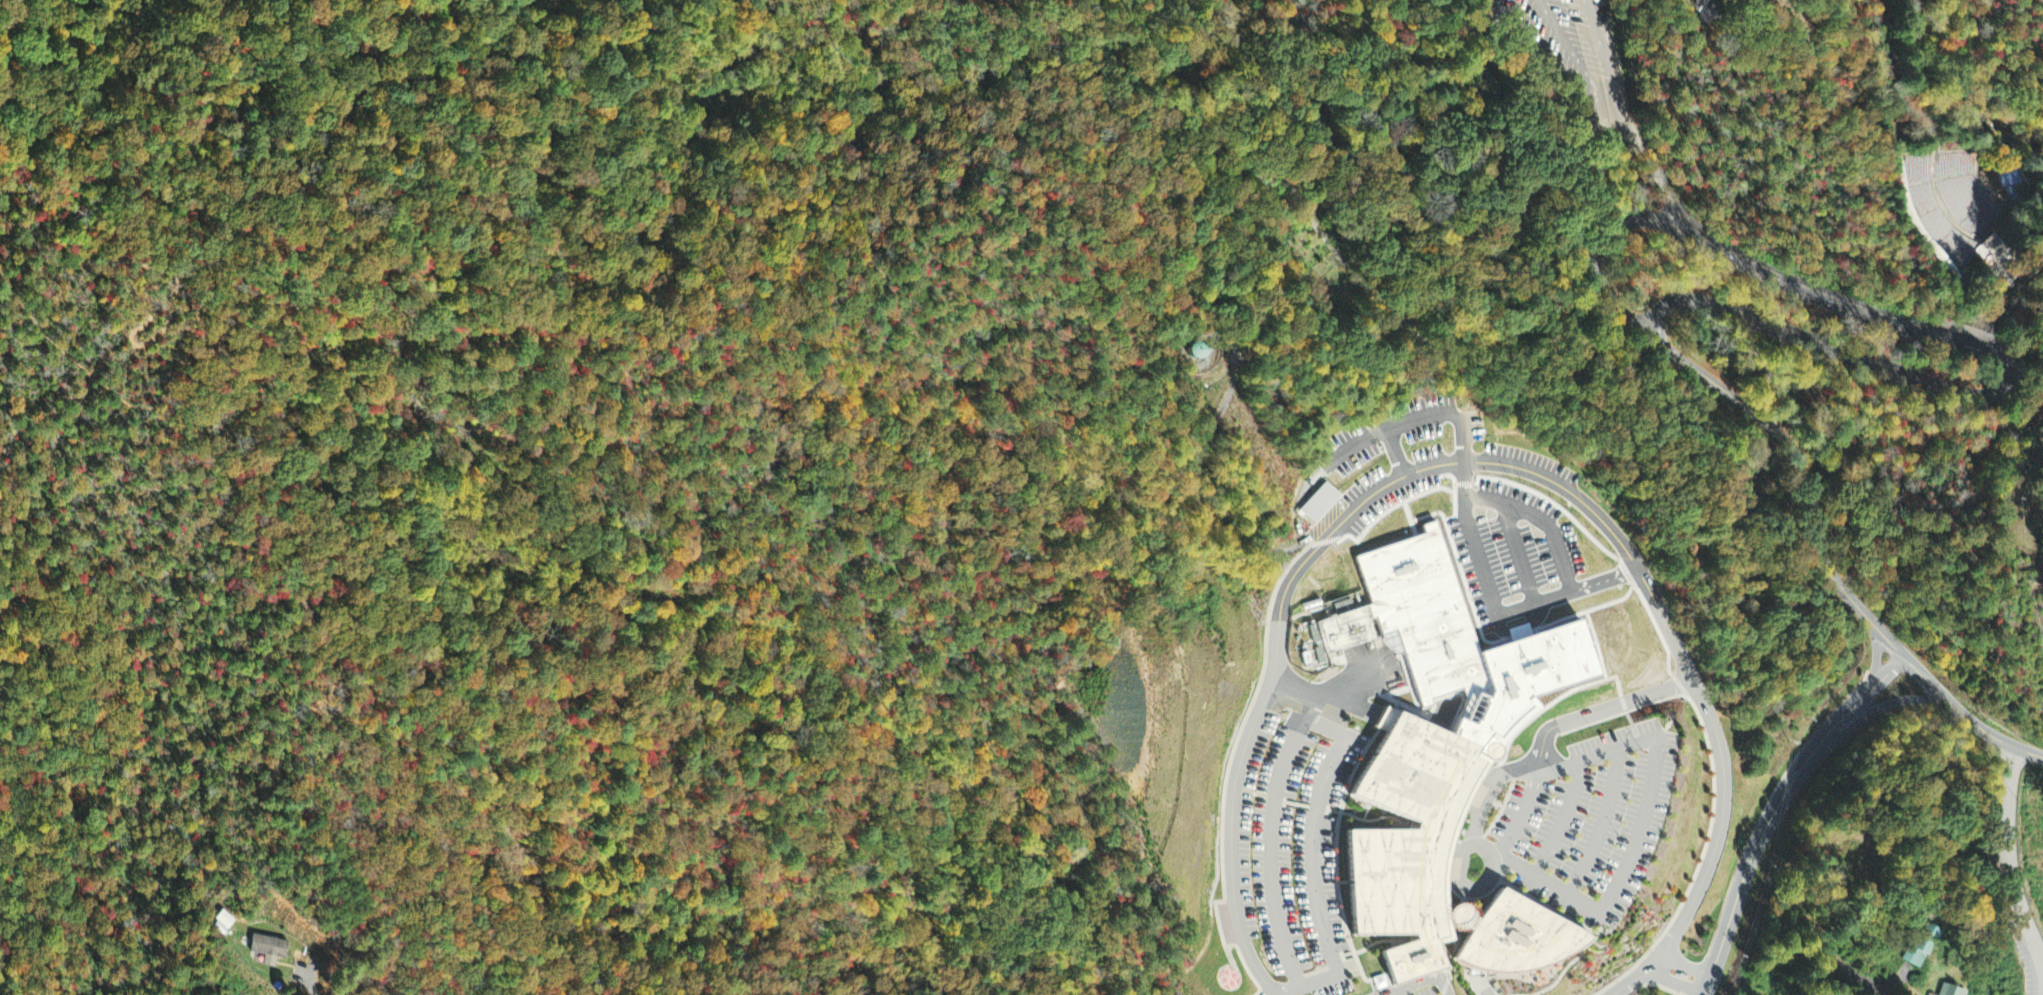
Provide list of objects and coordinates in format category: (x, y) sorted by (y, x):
road: (1329, 4)
building: (1703, 11)
parking lot: (1586, 59)
road: (354, 74)
road: (1624, 117)
road: (1565, 126)
road: (251, 287)
road: (166, 334)
building: (1194, 346)
storage tank: (1194, 346)
road: (606, 363)
road: (361, 390)
road: (2005, 390)
road: (771, 416)
building: (1418, 422)
road: (1399, 427)
road: (925, 437)
road: (1006, 464)
road: (1492, 464)
road: (1799, 464)
building: (1320, 505)
building: (1463, 633)
road: (1592, 713)
building: (1485, 730)
road: (1650, 775)
road: (1778, 809)
road: (1515, 816)
road: (1553, 819)
road: (1594, 825)
road: (2009, 857)
building: (1438, 863)
building: (1454, 870)
road: (1477, 886)
road: (792, 899)
road: (1799, 911)
building: (221, 915)
building: (266, 947)
building: (1920, 948)
road: (1680, 974)
helipad: (1235, 983)
road: (316, 988)
building: (1950, 991)

